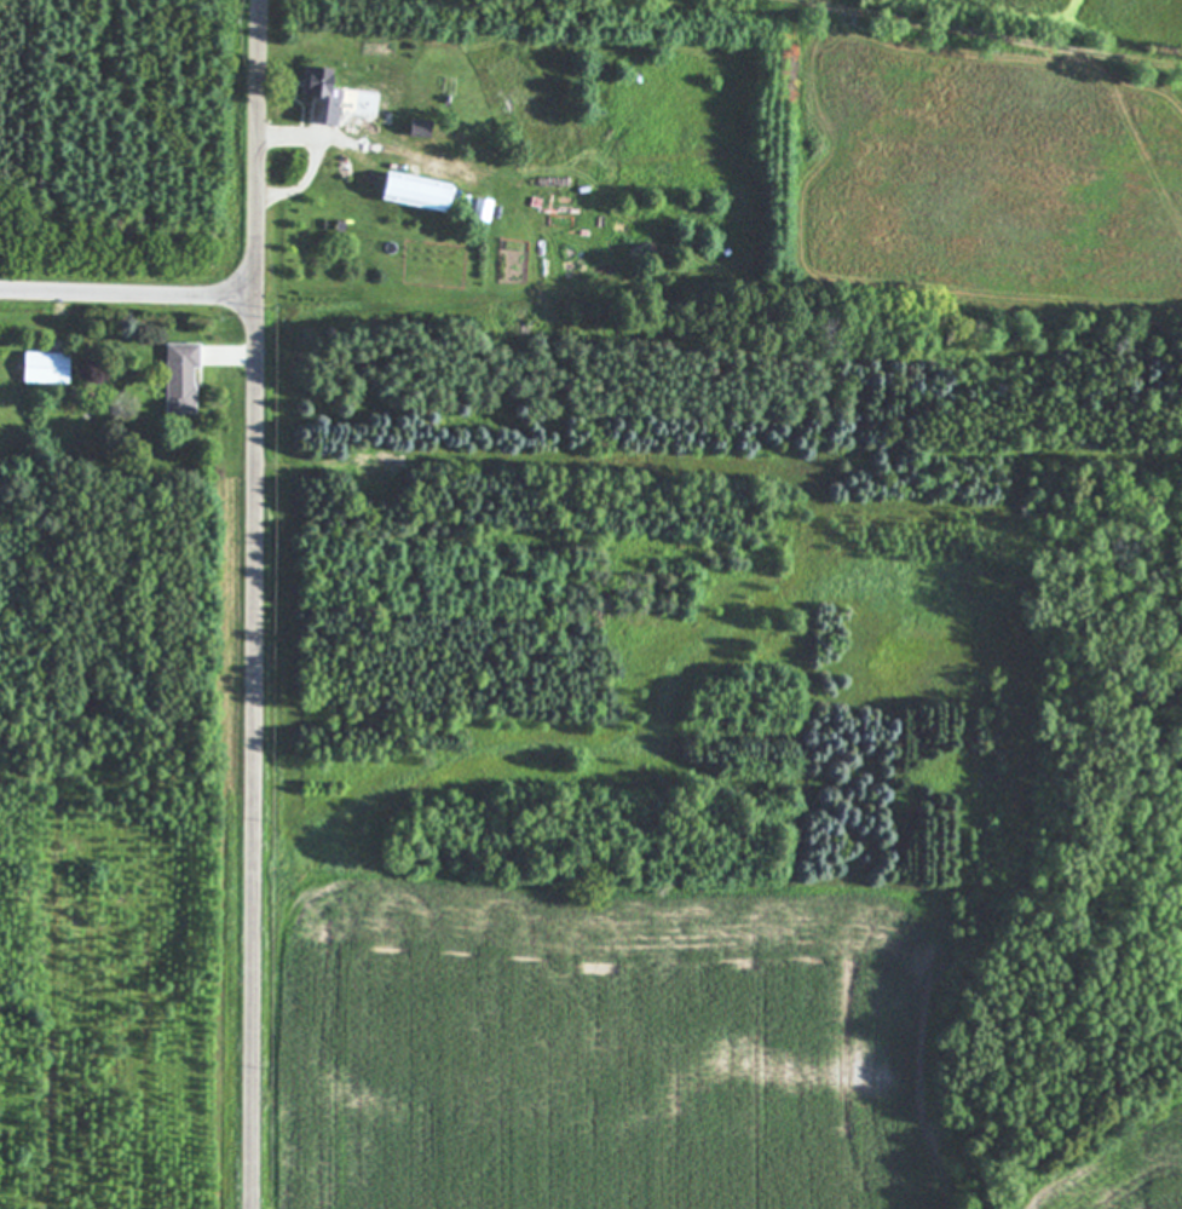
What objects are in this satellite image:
building: (325, 94)
road: (317, 160)
building: (421, 191)
road: (128, 292)
building: (50, 367)
building: (183, 376)
building: (374, 473)
road: (255, 604)

